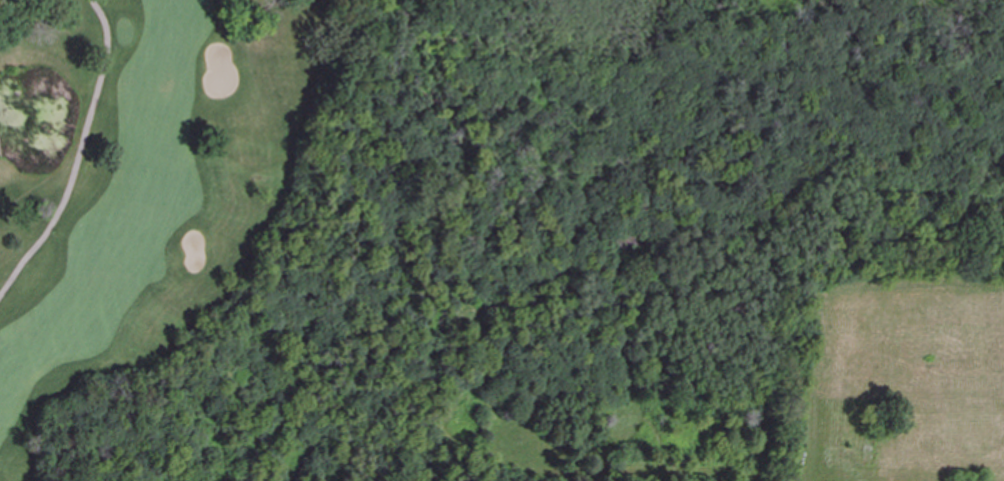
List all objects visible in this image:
road: (79, 154)
park: (236, 197)

